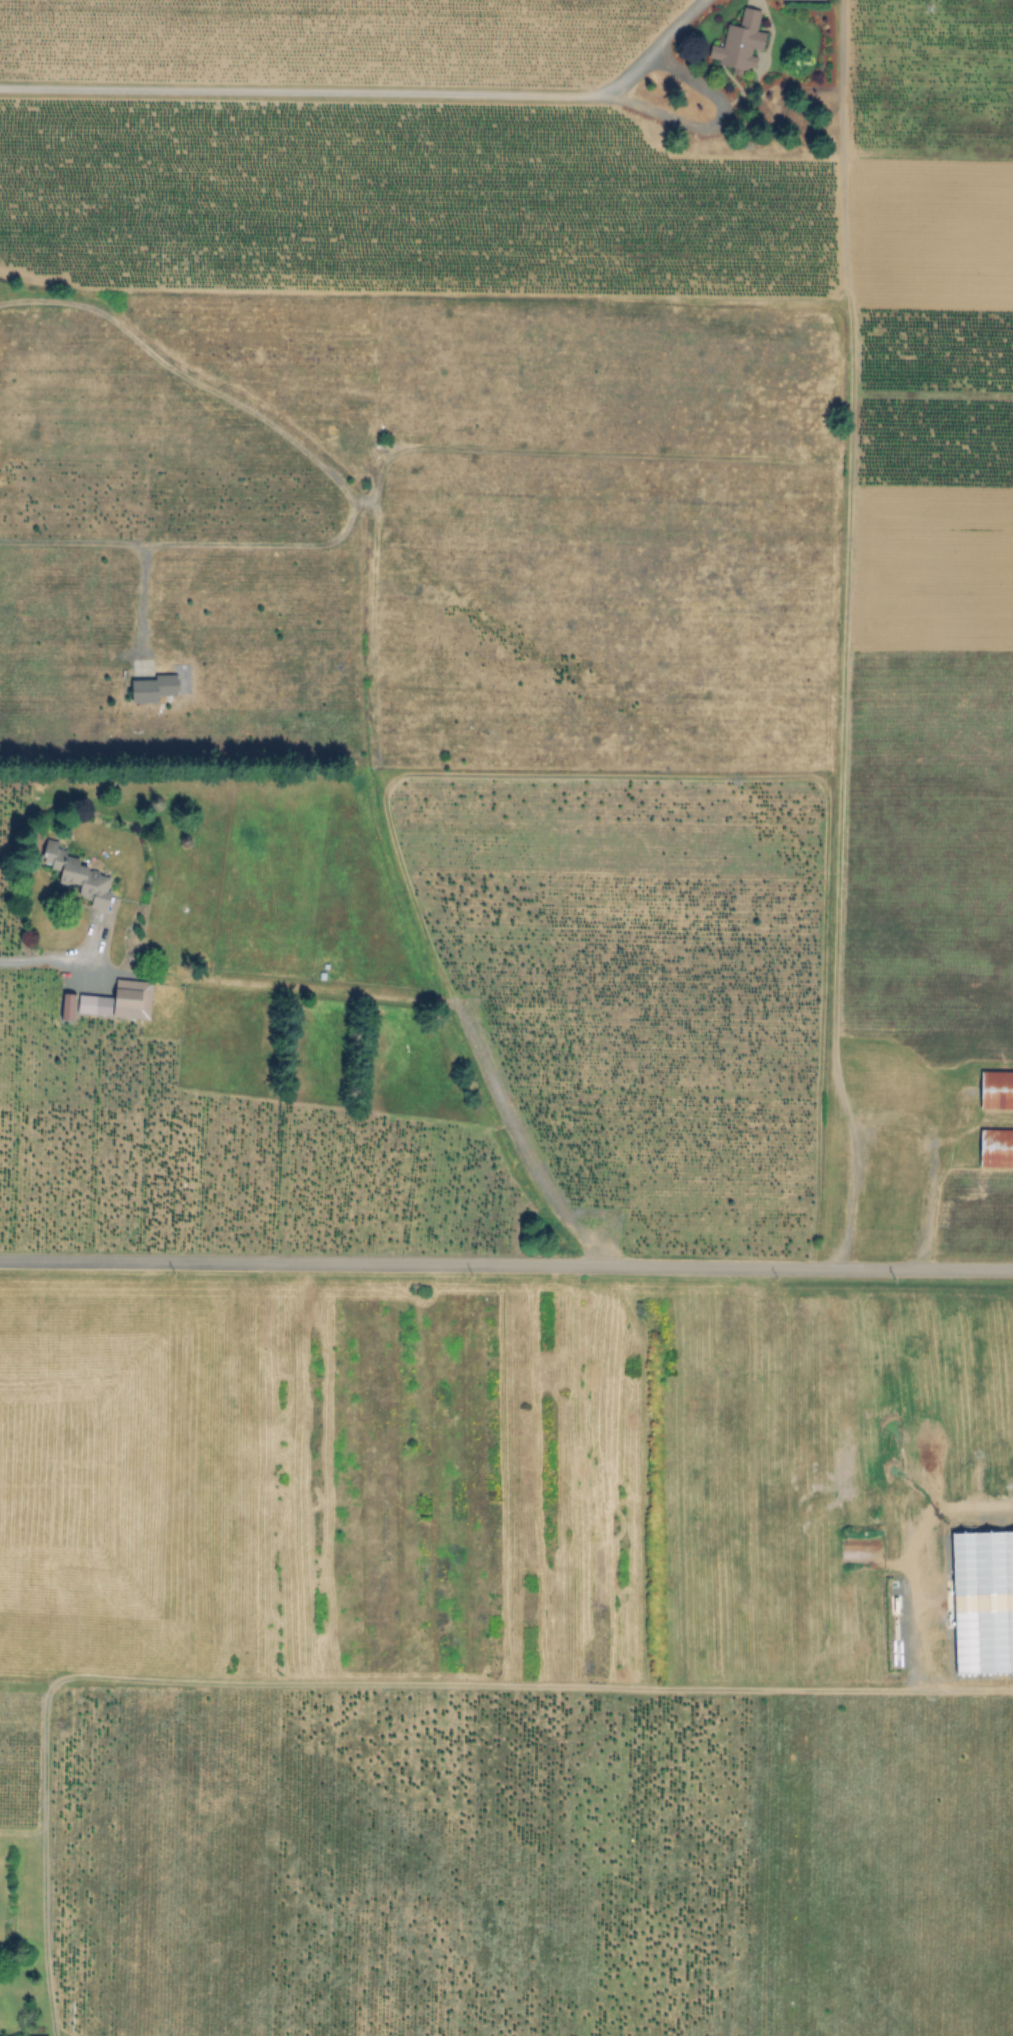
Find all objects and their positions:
building: (803, 0)
building: (743, 42)
road: (302, 91)
road: (722, 102)
road: (334, 480)
road: (138, 599)
building: (155, 688)
building: (81, 876)
road: (46, 957)
building: (122, 1001)
building: (997, 1091)
road: (927, 1132)
building: (996, 1150)
road: (506, 1262)
road: (856, 1690)
road: (36, 1917)

